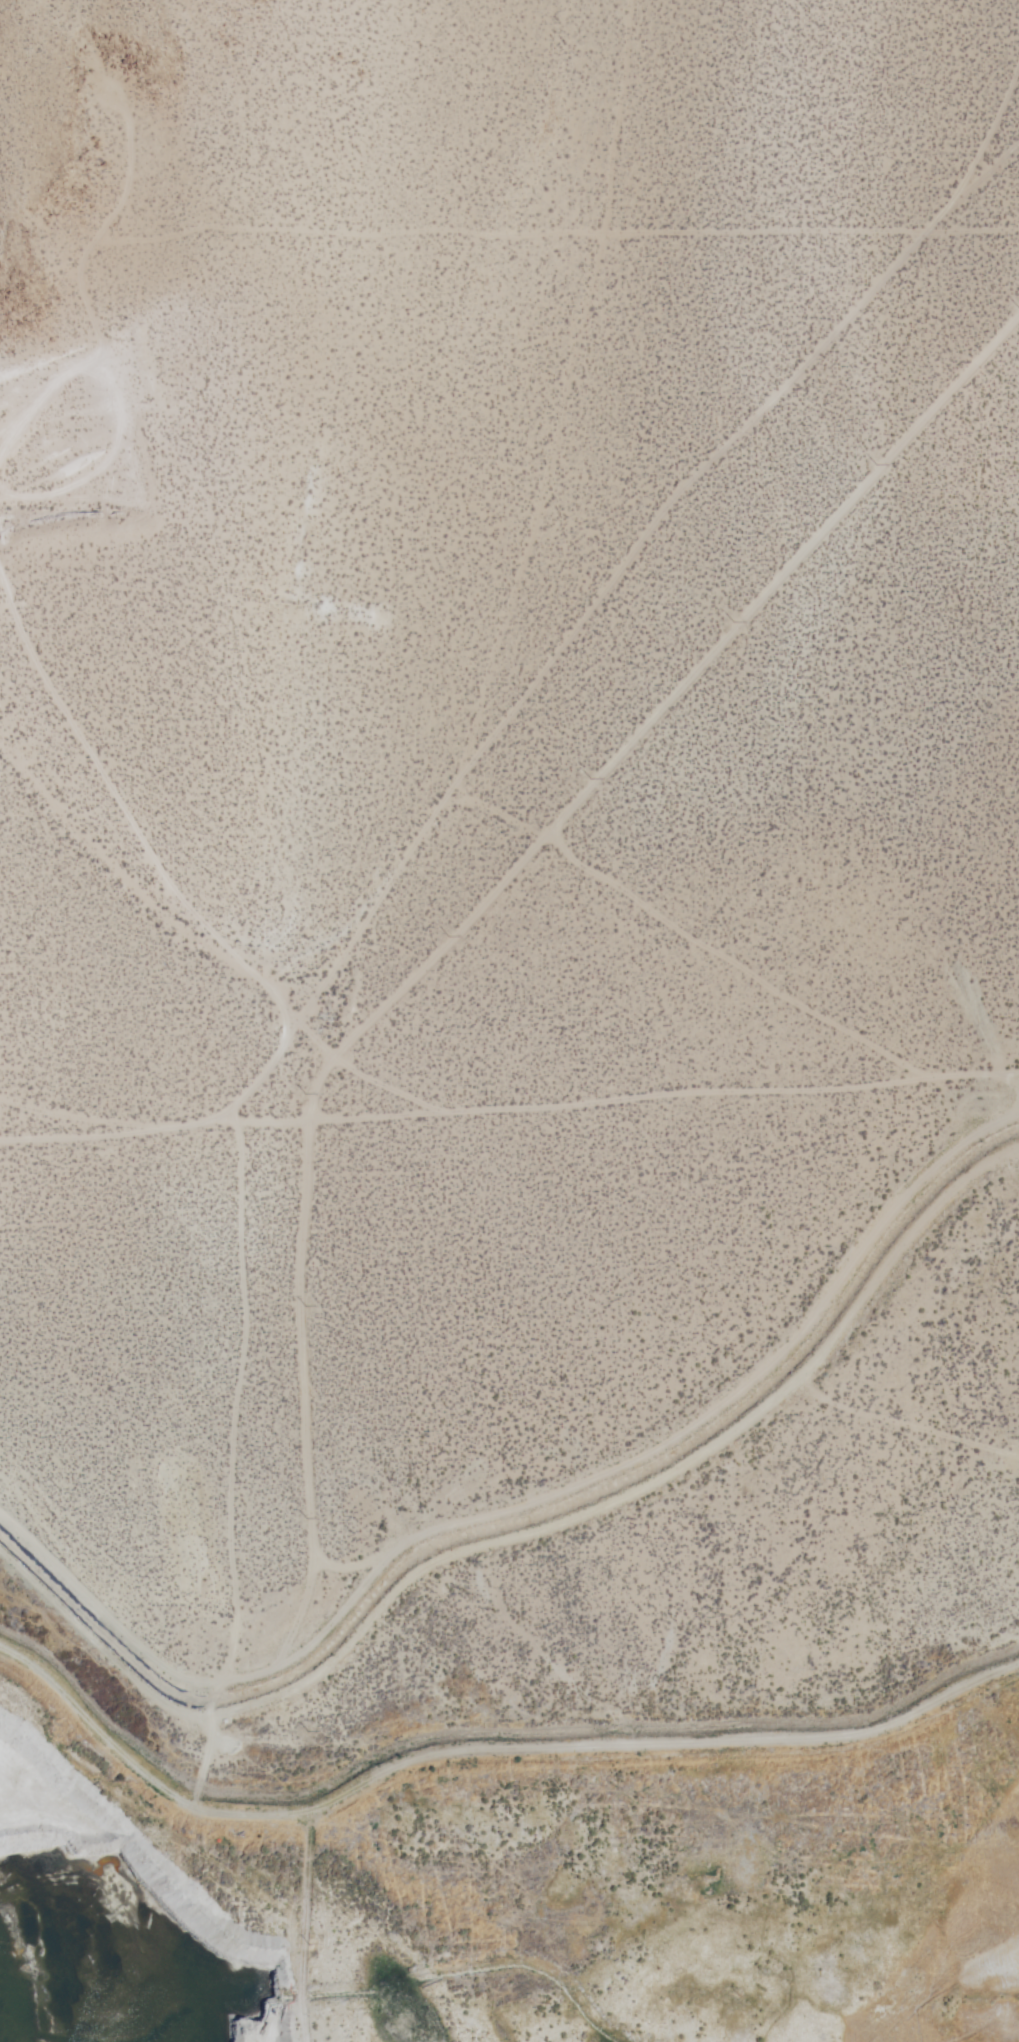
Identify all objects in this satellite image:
road: (995, 149)
road: (454, 226)
road: (575, 395)
road: (620, 558)
road: (88, 817)
road: (494, 898)
road: (720, 947)
road: (236, 955)
road: (359, 1058)
road: (509, 1105)
road: (59, 1117)
road: (530, 1509)
road: (521, 1539)
road: (483, 1744)

